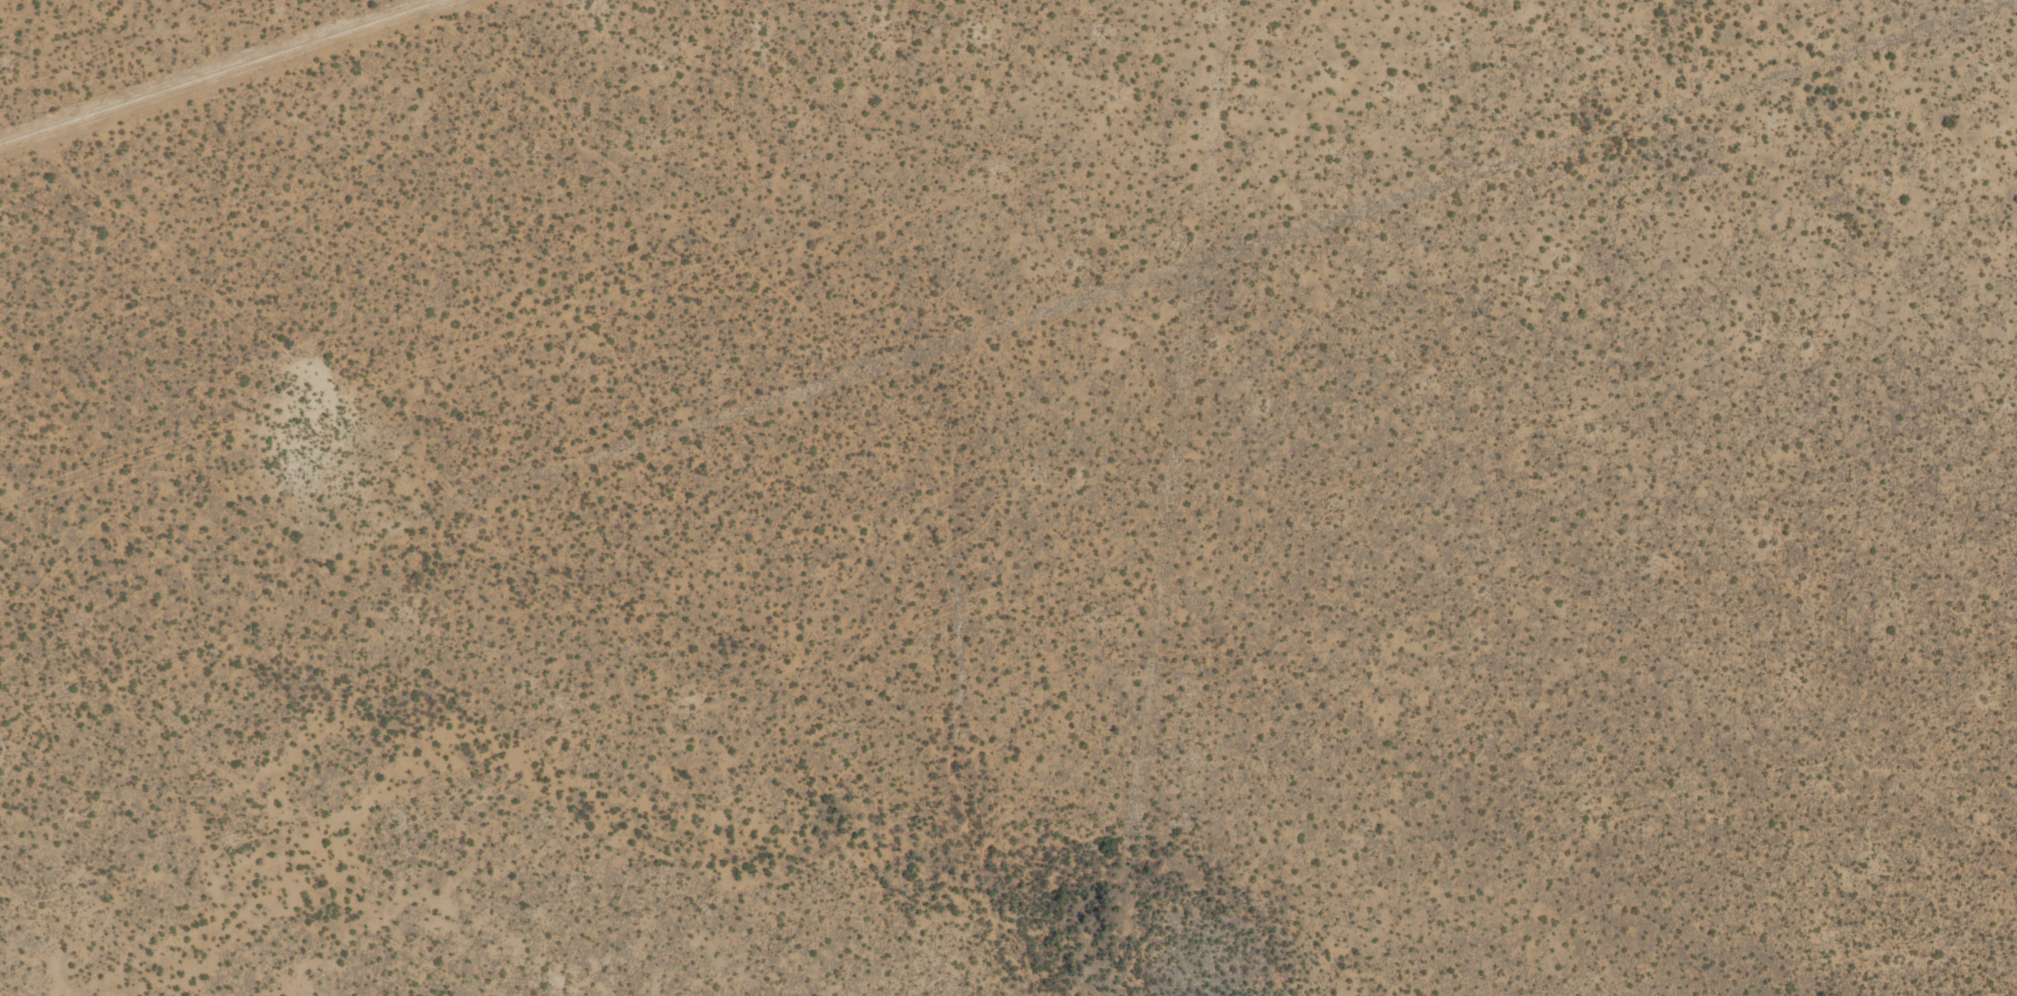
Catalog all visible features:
road: (1269, 248)

